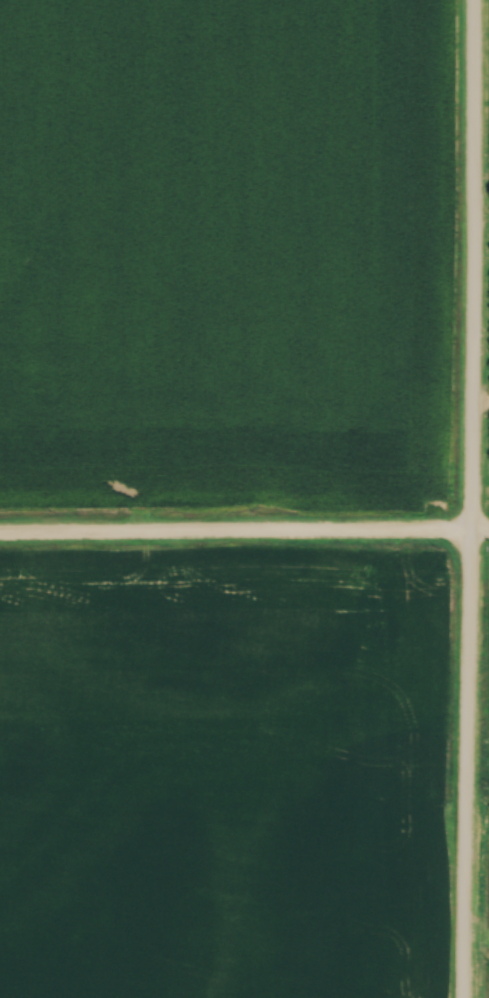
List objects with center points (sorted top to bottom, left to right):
road: (479, 405)
road: (469, 499)
road: (244, 532)

